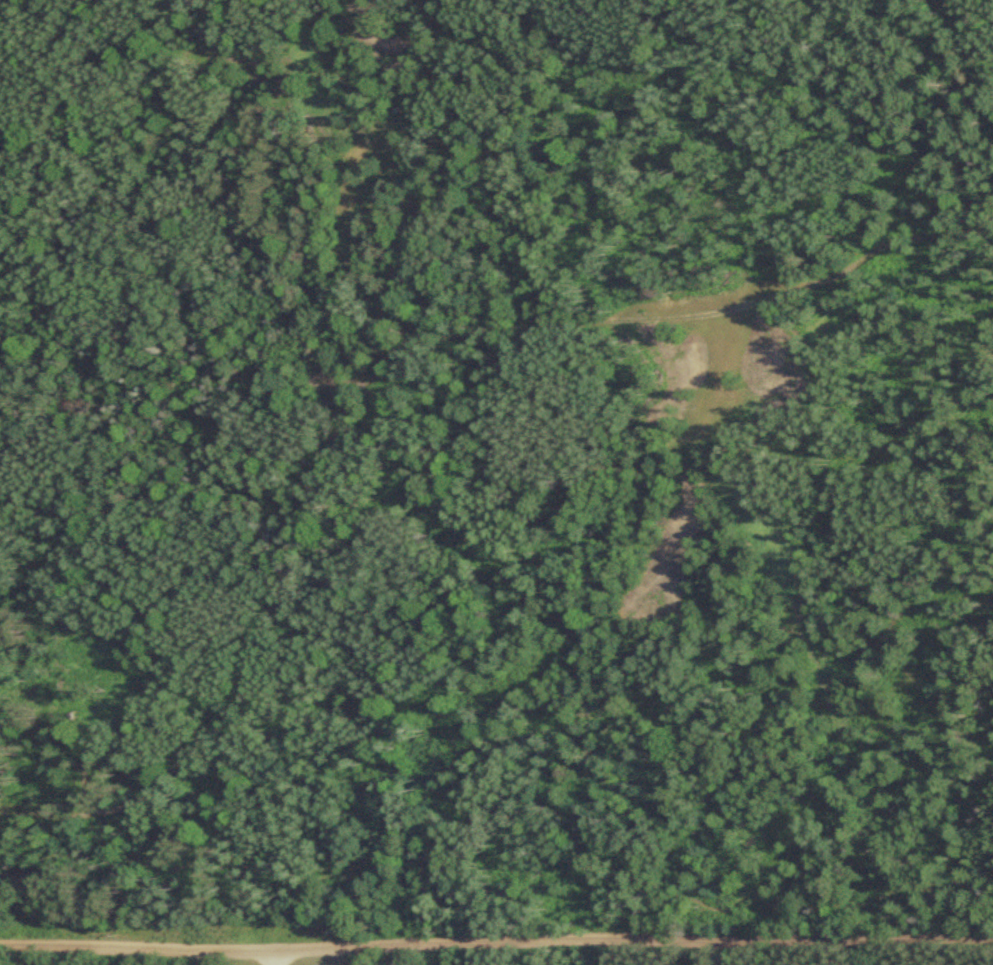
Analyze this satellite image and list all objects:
road: (496, 918)
road: (173, 940)

